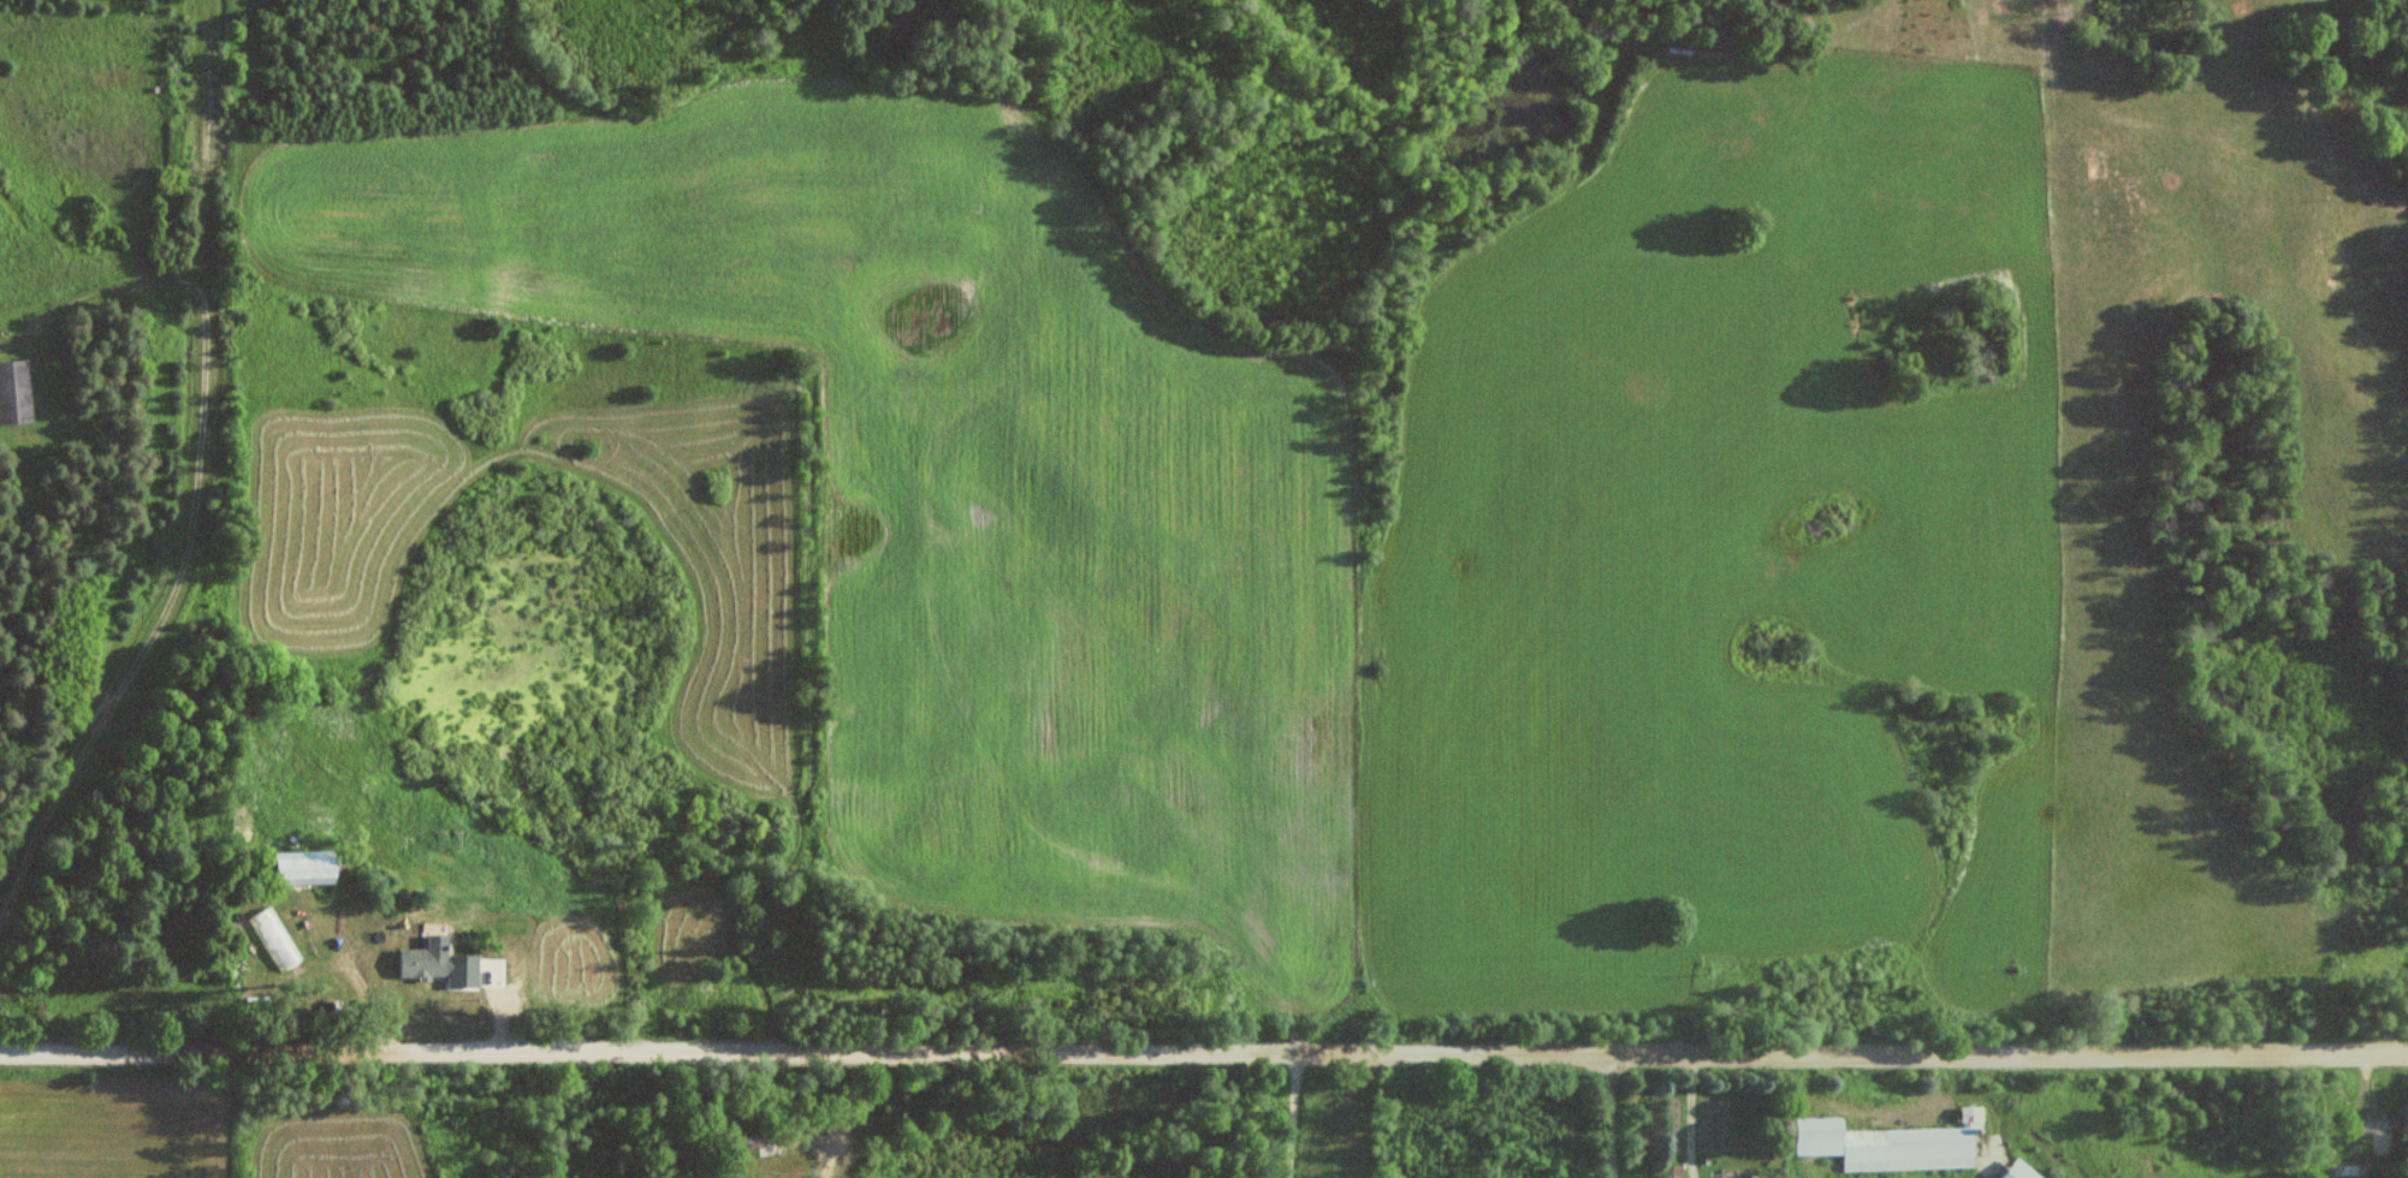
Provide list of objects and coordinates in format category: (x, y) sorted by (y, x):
building: (17, 392)
building: (310, 867)
building: (426, 963)
road: (1204, 1053)
road: (1288, 1115)
road: (1606, 1117)
building: (755, 1144)
building: (1896, 1144)
building: (2353, 1170)
building: (1672, 1171)
building: (1743, 1177)
building: (1780, 1177)

